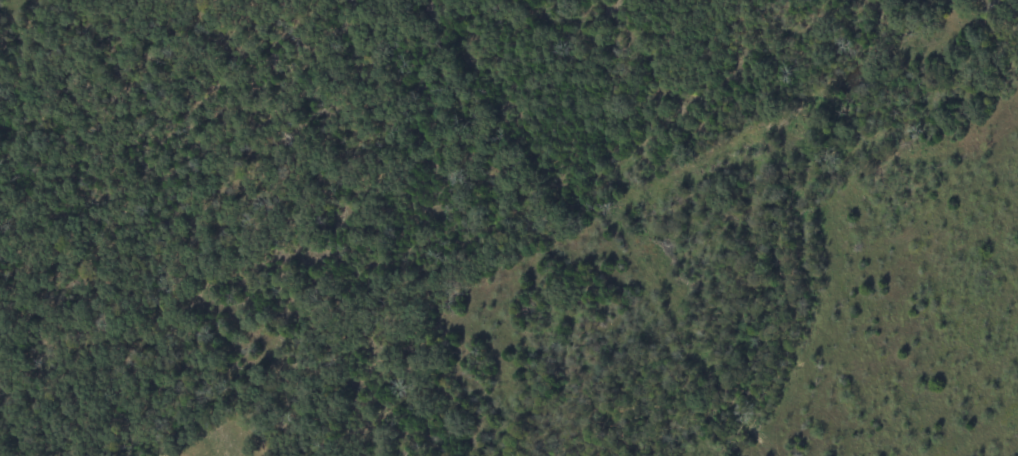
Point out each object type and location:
road: (802, 185)
road: (763, 332)

